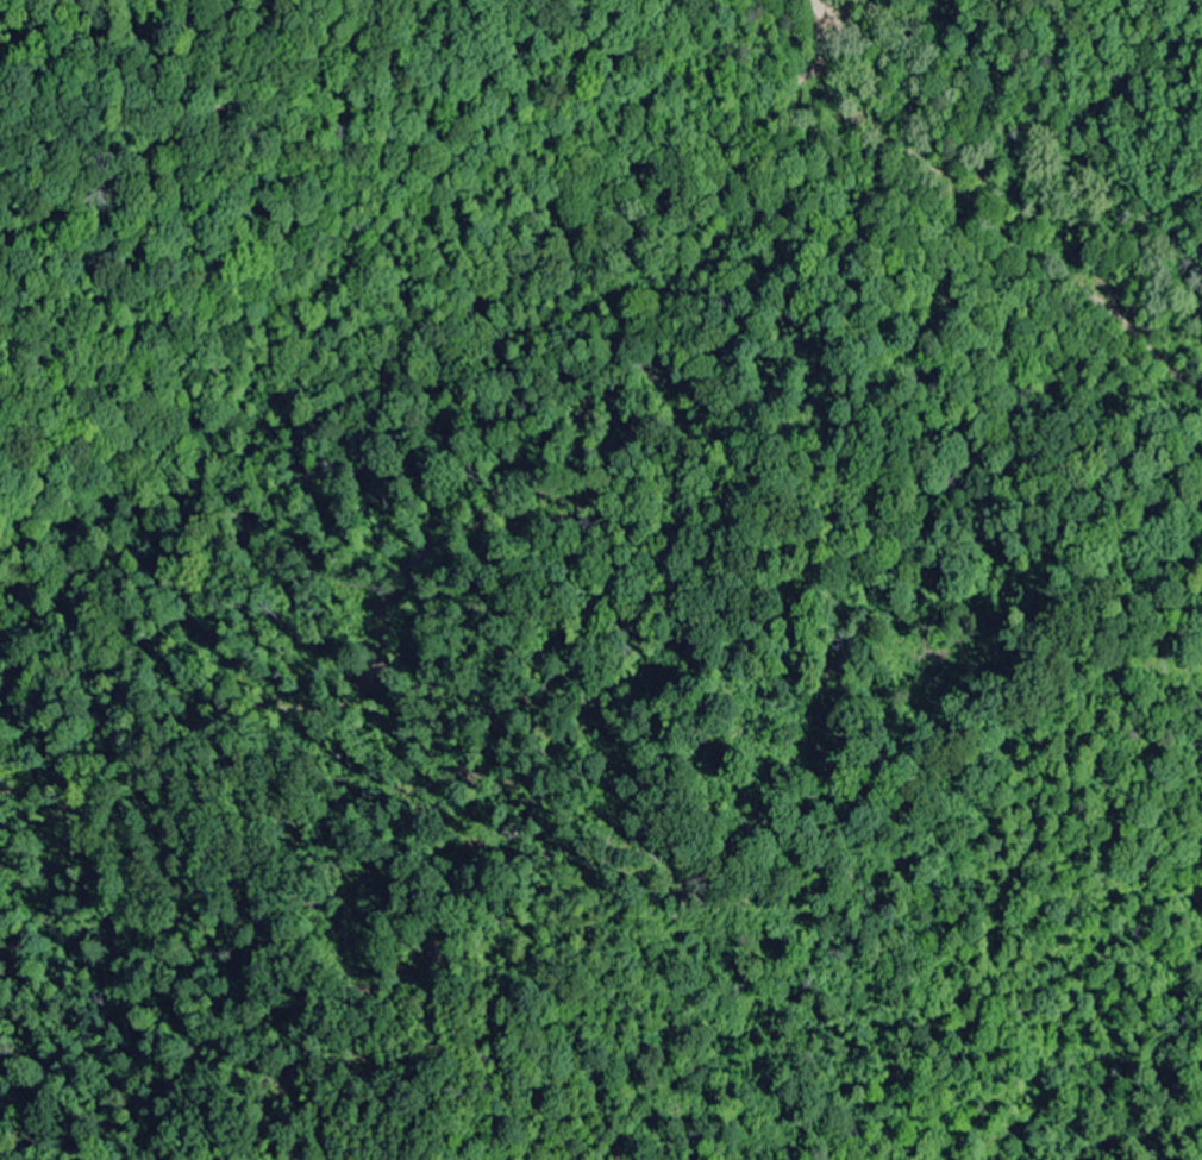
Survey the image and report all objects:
road: (778, 83)
road: (997, 325)
road: (397, 424)

